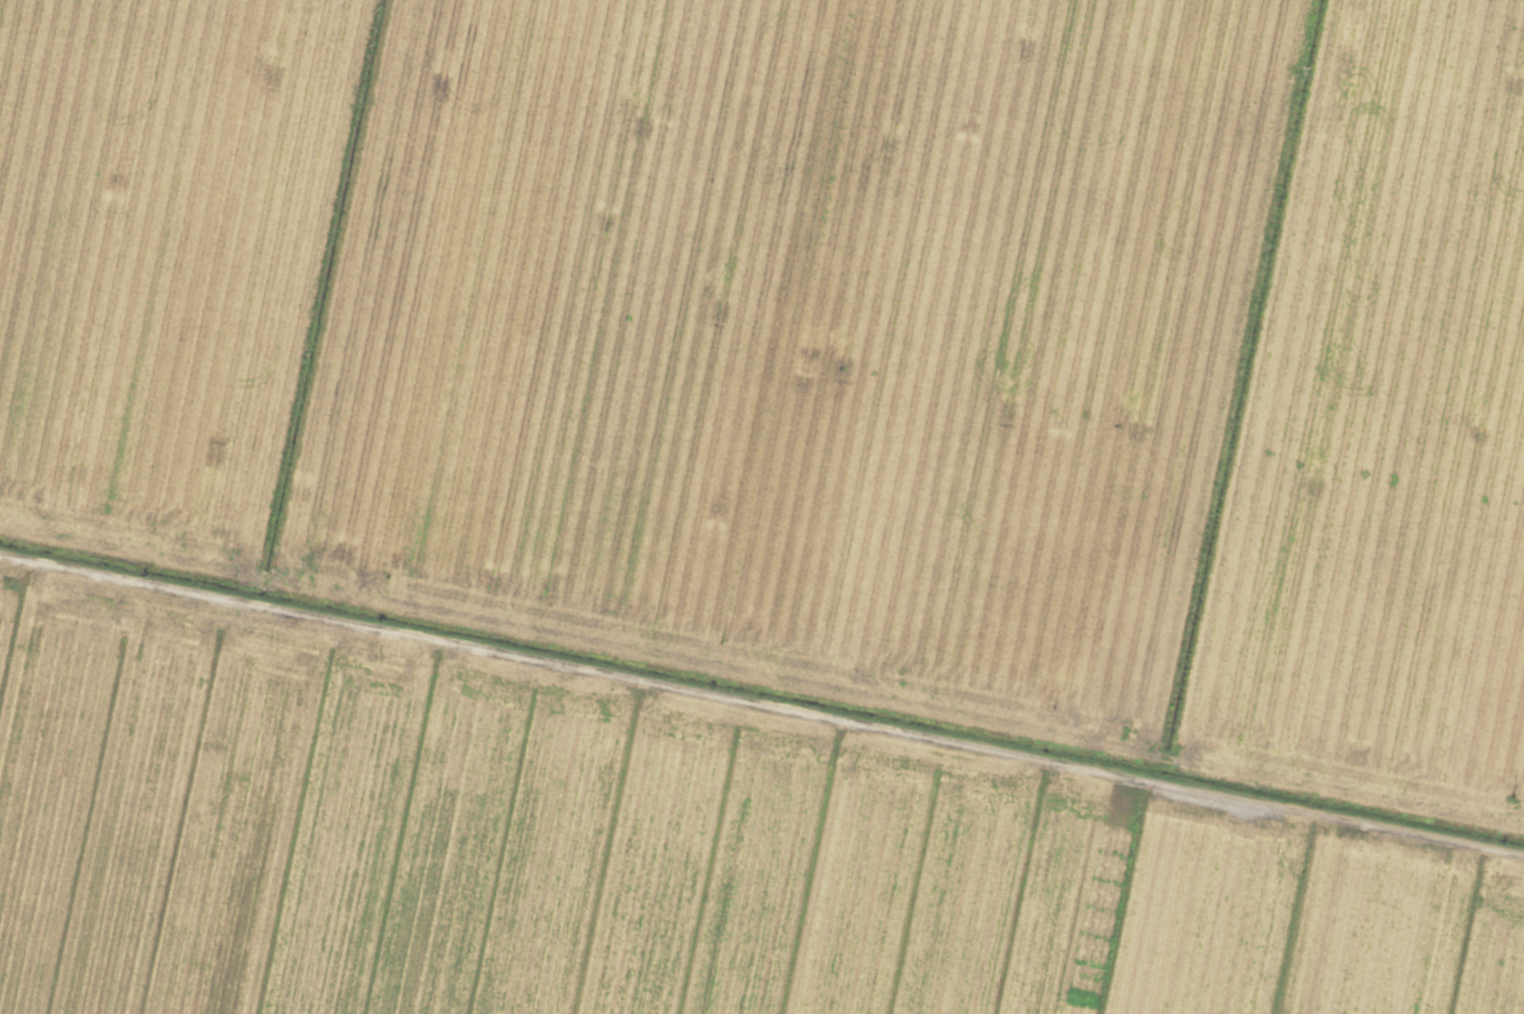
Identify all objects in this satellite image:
road: (762, 706)
building: (1071, 865)

